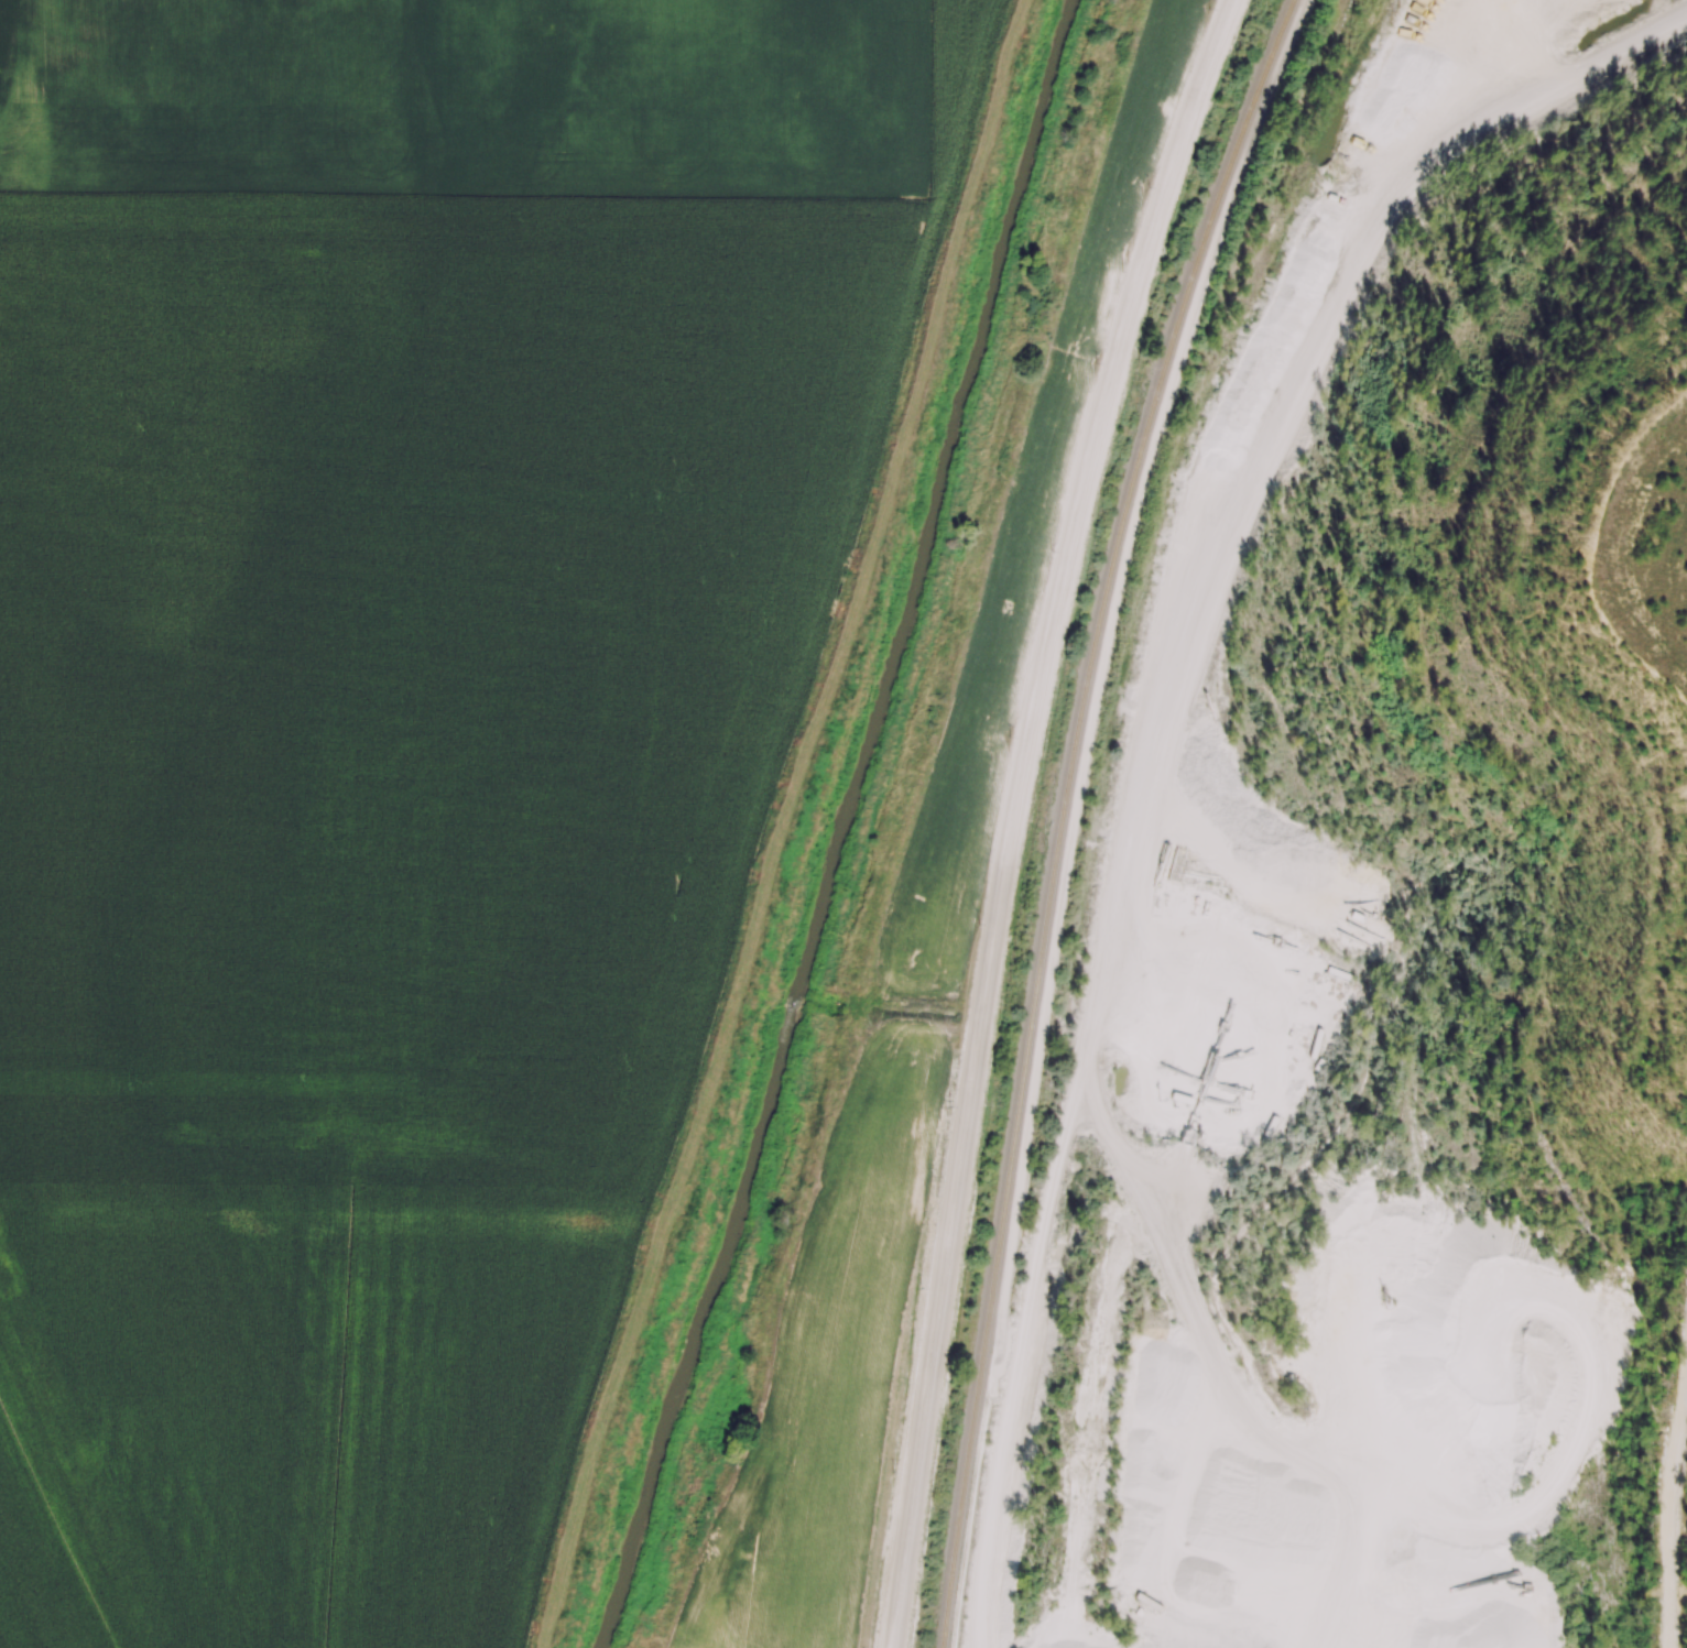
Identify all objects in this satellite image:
quarry: (1653, 404)
railway: (1063, 810)
road: (1021, 814)
river: (842, 823)
road: (1673, 1534)

